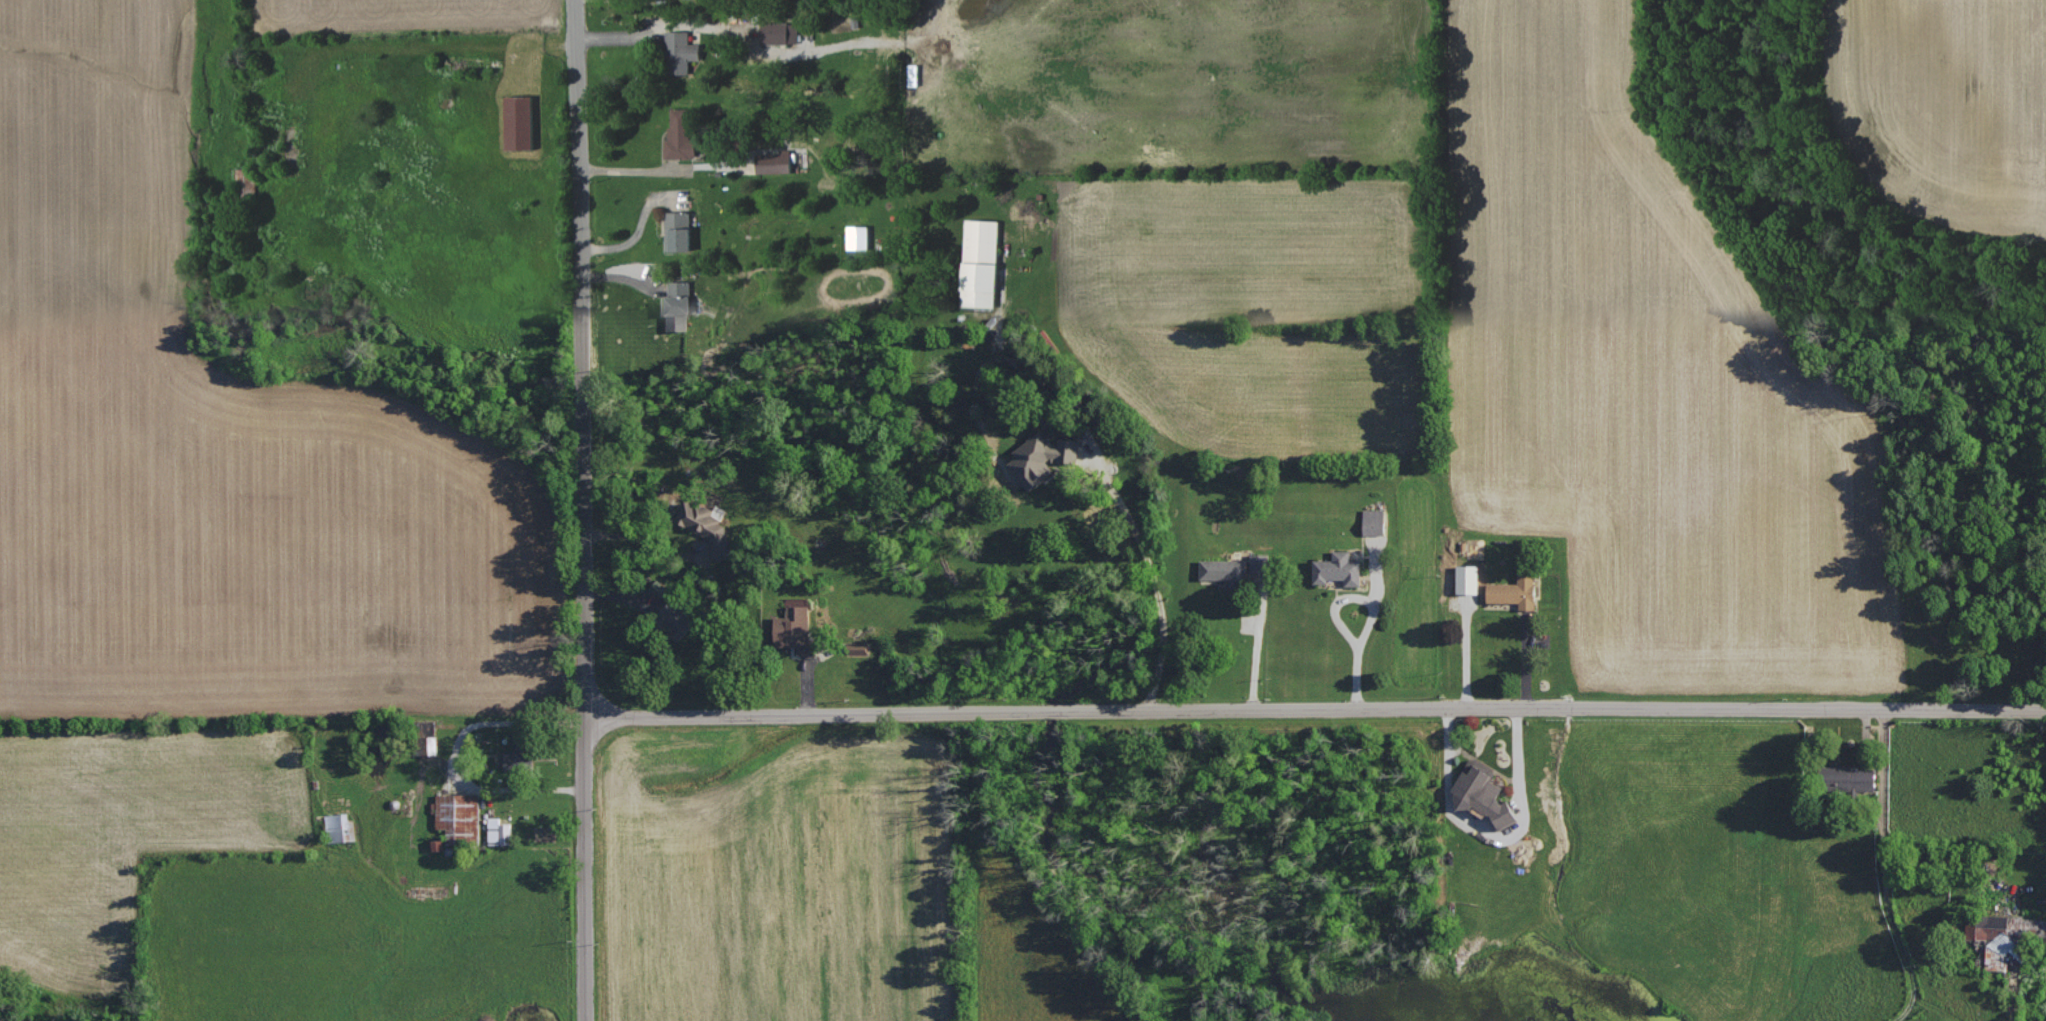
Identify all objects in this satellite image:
building: (779, 33)
building: (680, 52)
building: (519, 123)
building: (679, 136)
building: (774, 163)
road: (654, 171)
building: (245, 184)
building: (677, 232)
building: (979, 263)
building: (678, 305)
building: (1042, 457)
road: (1130, 489)
road: (585, 510)
building: (1374, 520)
building: (707, 526)
road: (648, 540)
building: (1260, 562)
building: (1338, 568)
building: (1225, 570)
building: (660, 588)
building: (1515, 590)
road: (1373, 611)
building: (678, 617)
building: (796, 627)
road: (1256, 654)
road: (1316, 708)
building: (429, 744)
building: (519, 754)
road: (460, 755)
building: (1484, 791)
building: (459, 814)
building: (341, 826)
building: (499, 831)
road: (1499, 834)
road: (1948, 861)
road: (1884, 871)
building: (2004, 935)

